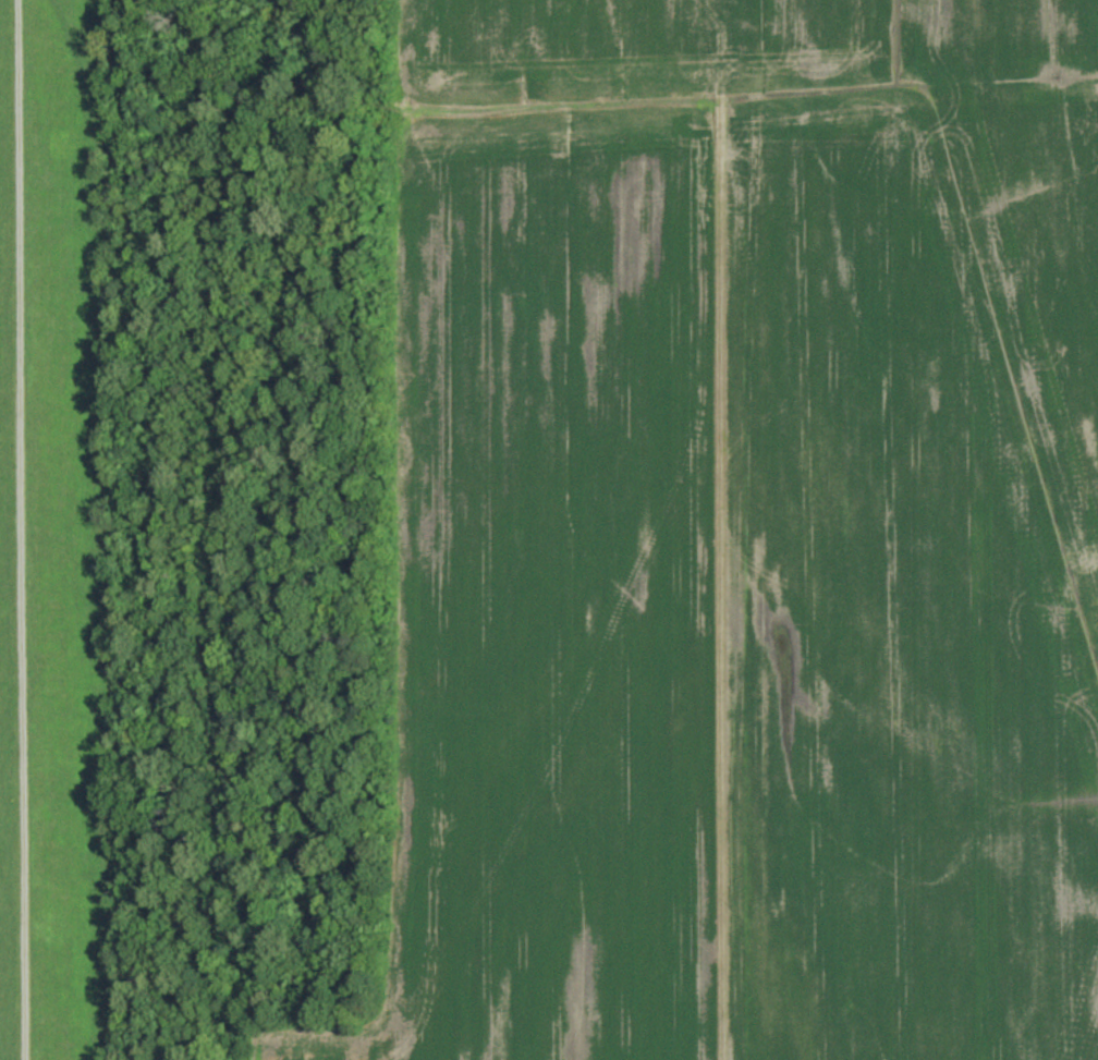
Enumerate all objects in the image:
road: (23, 529)

